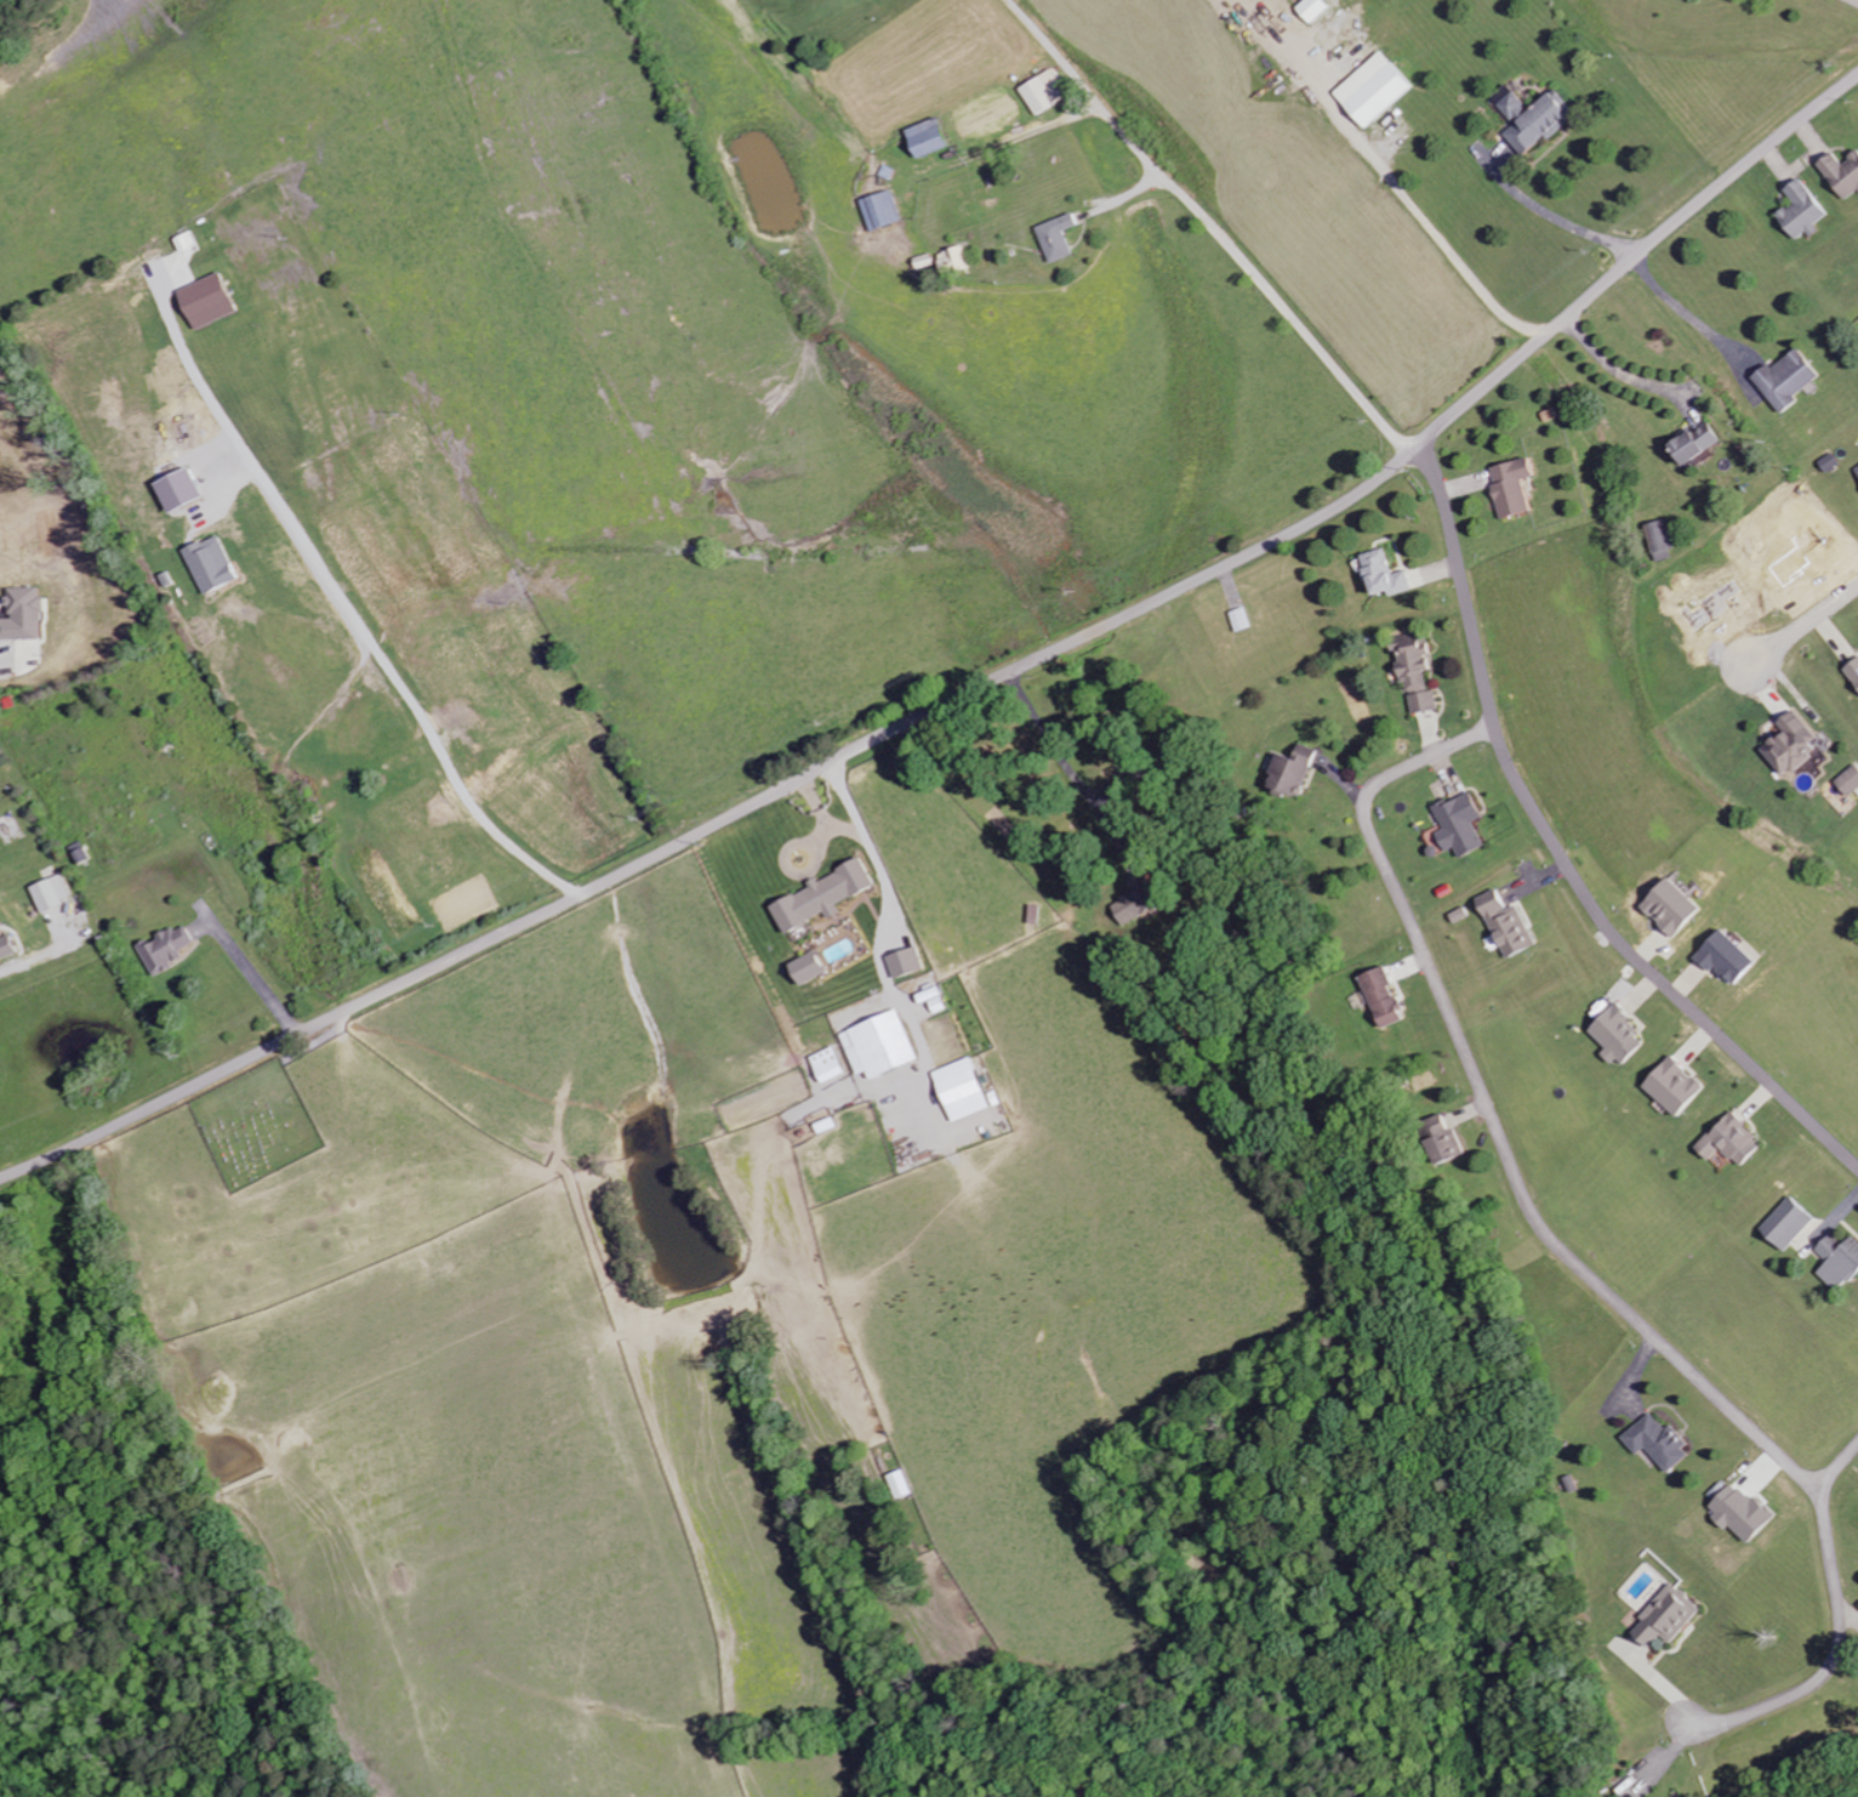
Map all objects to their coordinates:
building: (1311, 10)
building: (1372, 90)
building: (1041, 92)
building: (1531, 116)
building: (927, 138)
building: (1842, 174)
building: (883, 210)
building: (1803, 211)
building: (1056, 238)
building: (953, 260)
building: (209, 301)
building: (1786, 380)
building: (1693, 444)
building: (1857, 470)
building: (1512, 487)
building: (178, 490)
building: (1659, 540)
building: (212, 565)
building: (1383, 575)
building: (21, 615)
building: (1241, 620)
road: (1805, 626)
building: (1415, 672)
building: (1852, 673)
road: (970, 693)
building: (1790, 745)
road: (1072, 767)
building: (1290, 772)
building: (1848, 781)
building: (1458, 825)
road: (1558, 853)
building: (51, 893)
building: (821, 897)
building: (1671, 908)
building: (1505, 925)
building: (6, 948)
building: (163, 950)
building: (1726, 957)
building: (904, 963)
building: (805, 969)
building: (1383, 997)
building: (1618, 1036)
building: (878, 1046)
building: (826, 1065)
building: (1674, 1087)
building: (958, 1091)
building: (1446, 1139)
building: (1731, 1142)
building: (1788, 1226)
road: (1578, 1262)
building: (1839, 1262)
building: (1658, 1441)
road: (1836, 1467)
building: (900, 1484)
building: (1739, 1512)
building: (1666, 1617)

